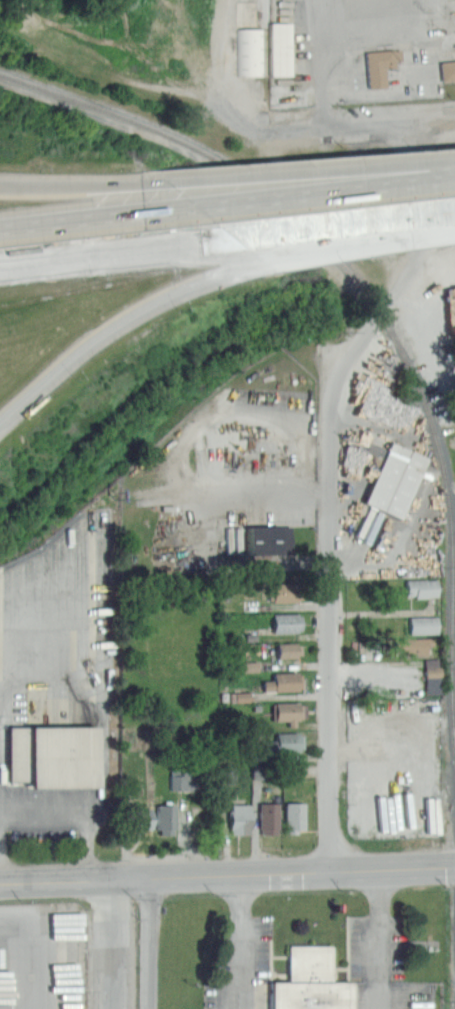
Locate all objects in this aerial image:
road: (317, 43)
building: (280, 47)
building: (249, 50)
parking lot: (361, 50)
building: (374, 64)
building: (444, 68)
road: (451, 127)
road: (311, 177)
road: (84, 187)
road: (325, 192)
road: (97, 218)
road: (344, 226)
road: (356, 242)
road: (116, 252)
railway: (372, 299)
road: (117, 322)
road: (181, 449)
parking lot: (383, 473)
parking lot: (223, 485)
building: (383, 487)
road: (425, 490)
road: (205, 531)
building: (262, 539)
building: (417, 586)
building: (279, 621)
road: (328, 622)
building: (419, 624)
building: (404, 644)
building: (283, 649)
building: (244, 664)
building: (426, 666)
parking lot: (54, 675)
road: (97, 675)
building: (278, 680)
building: (235, 695)
building: (284, 709)
building: (281, 741)
building: (47, 755)
building: (223, 772)
road: (82, 802)
building: (290, 815)
building: (136, 817)
building: (233, 817)
building: (264, 817)
building: (161, 818)
road: (227, 871)
road: (379, 936)
road: (242, 940)
road: (150, 941)
road: (108, 942)
road: (32, 948)
parking lot: (67, 954)
building: (70, 963)
parking lot: (241, 963)
parking lot: (380, 966)
building: (311, 982)

